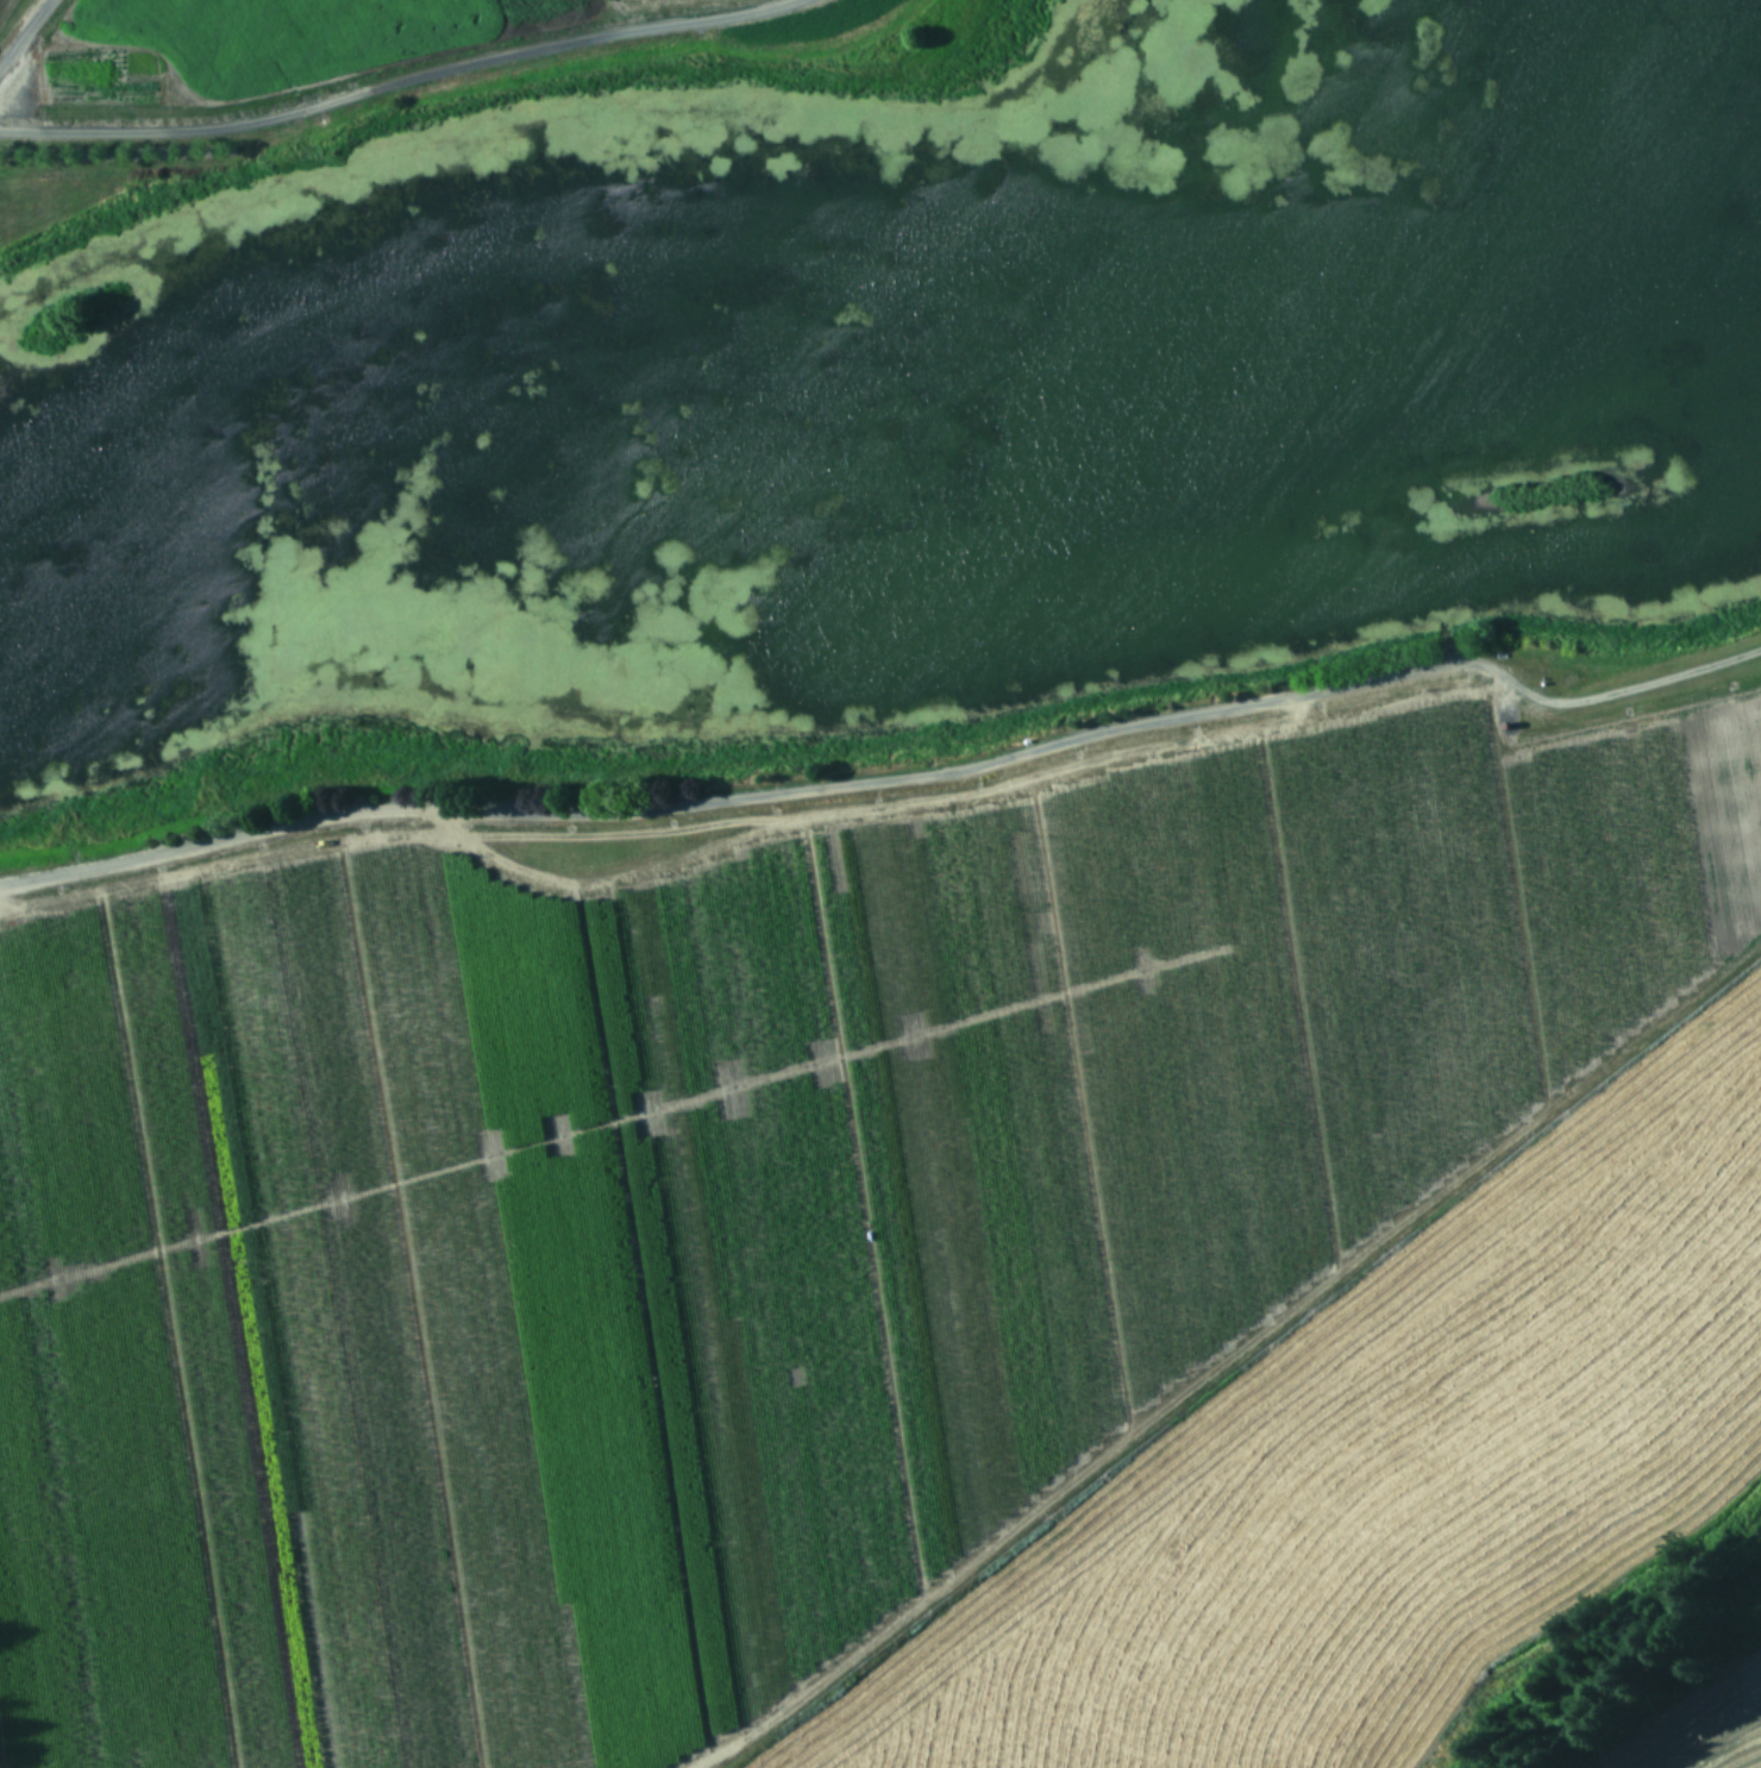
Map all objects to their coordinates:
road: (24, 33)
road: (388, 80)
crop: (880, 884)

